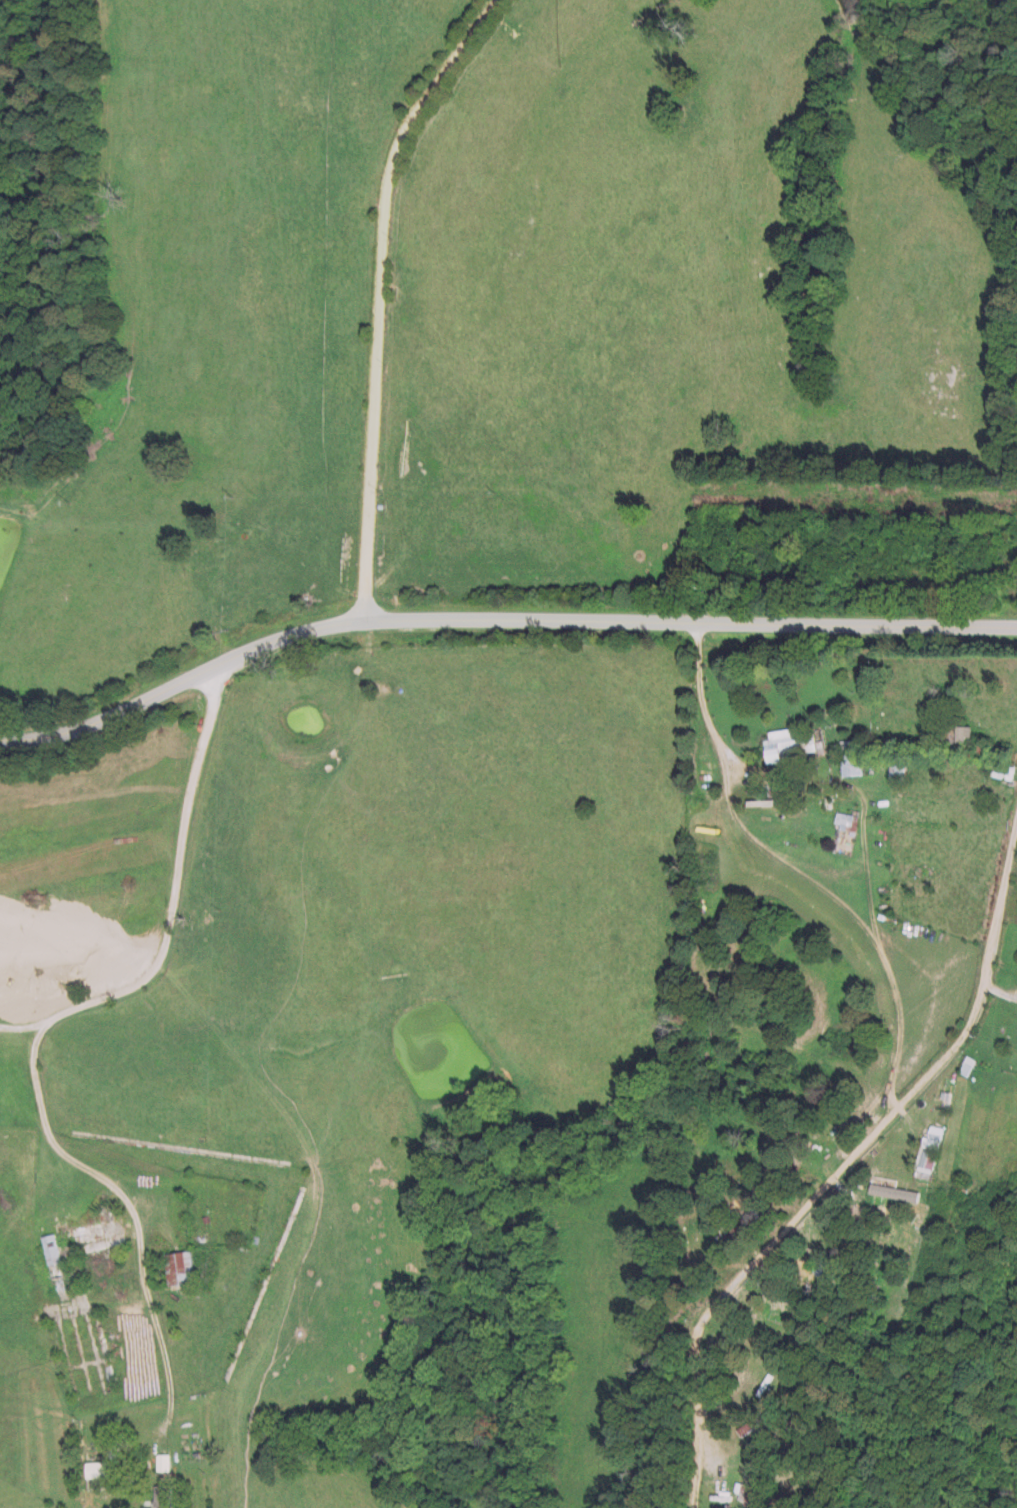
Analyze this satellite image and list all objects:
road: (377, 293)
road: (497, 614)
building: (951, 734)
building: (783, 743)
building: (846, 756)
road: (852, 788)
building: (840, 819)
road: (786, 866)
road: (33, 1035)
building: (963, 1065)
road: (861, 1132)
building: (925, 1150)
building: (889, 1191)
building: (174, 1264)
building: (158, 1461)
building: (157, 1496)

